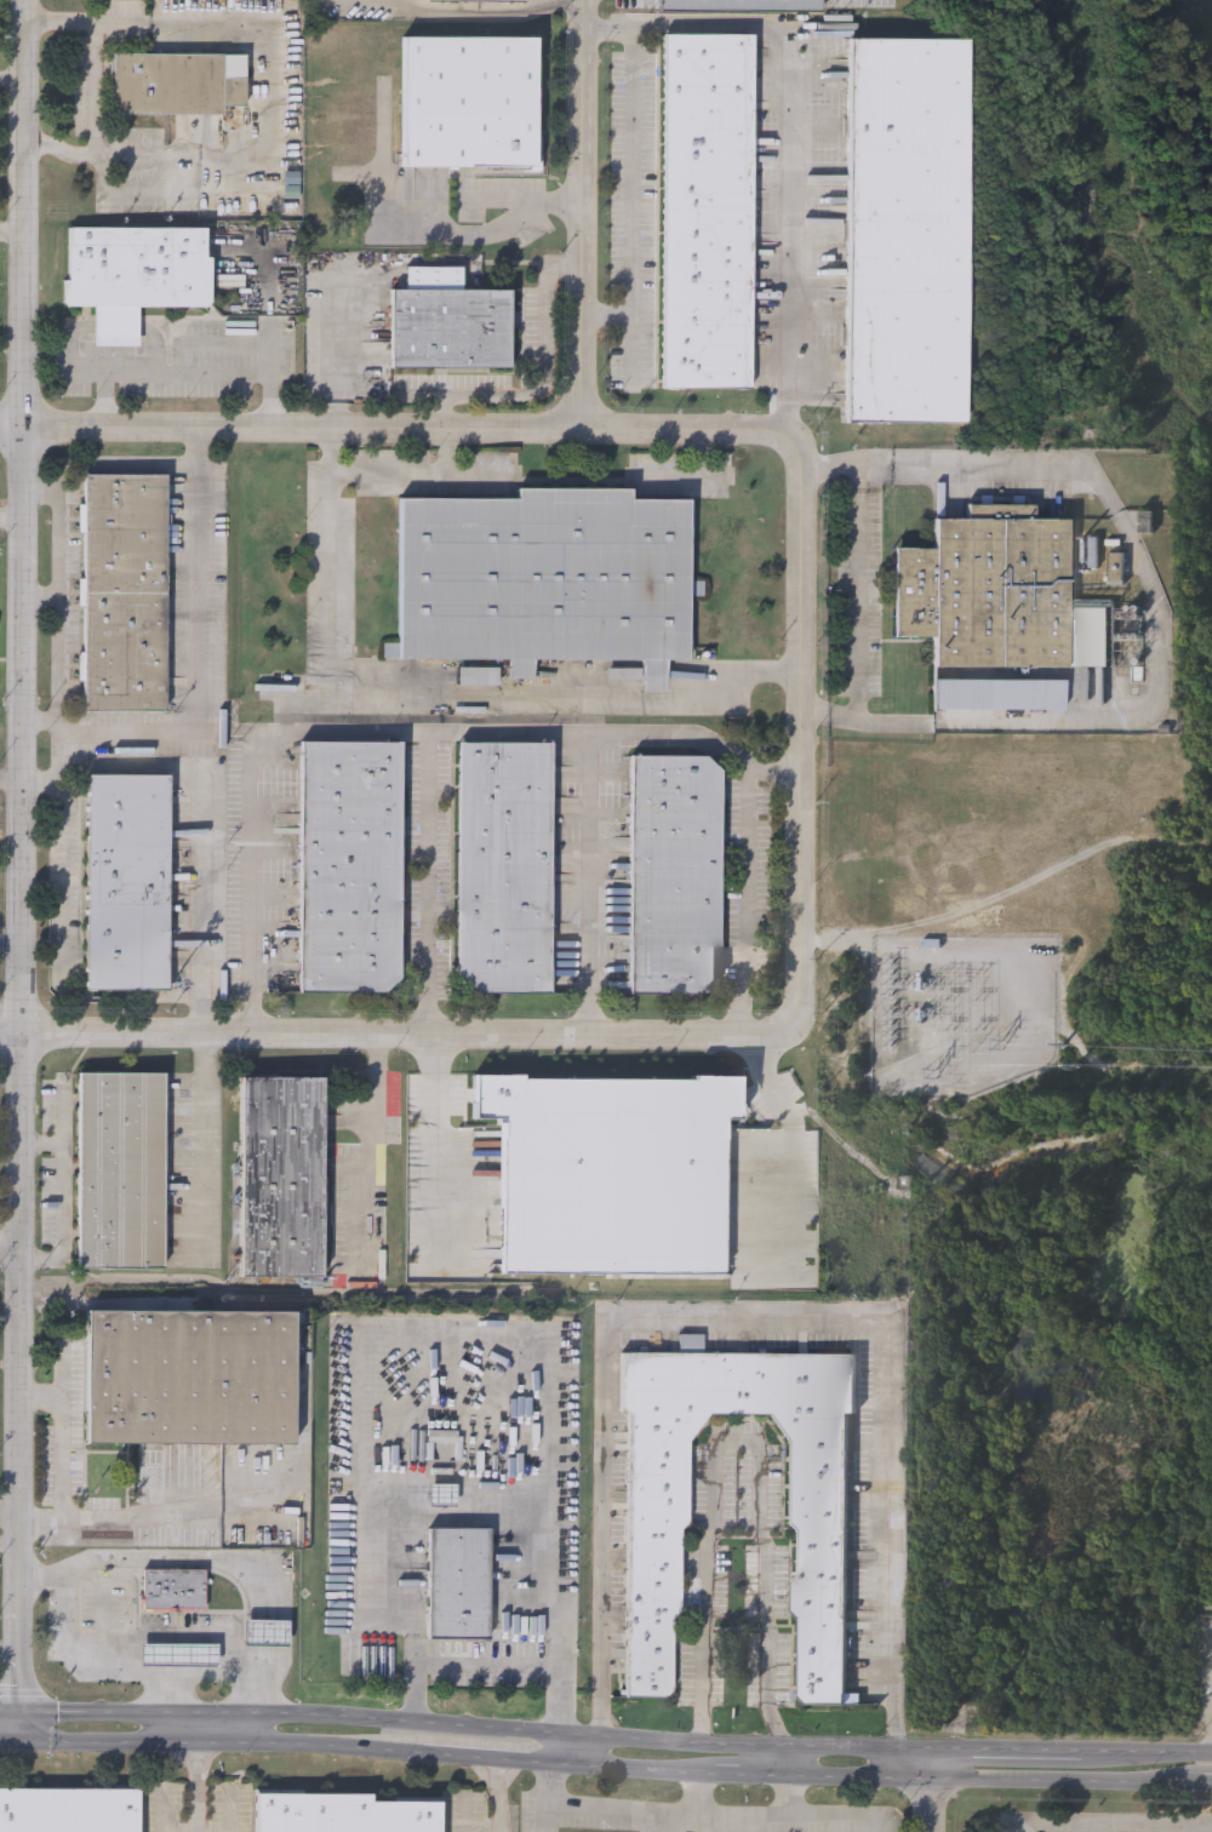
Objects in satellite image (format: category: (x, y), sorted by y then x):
building: (491, 0)
river: (1211, 0)
road: (537, 4)
building: (742, 4)
road: (484, 10)
building: (177, 82)
road: (96, 87)
road: (270, 93)
building: (469, 101)
road: (790, 136)
road: (139, 191)
road: (630, 202)
building: (708, 211)
road: (582, 216)
road: (11, 229)
road: (499, 229)
building: (908, 230)
building: (135, 274)
road: (267, 308)
road: (606, 315)
building: (448, 321)
road: (109, 328)
road: (332, 366)
road: (159, 373)
road: (90, 374)
road: (547, 379)
road: (269, 402)
road: (290, 431)
road: (702, 456)
road: (119, 468)
road: (411, 475)
road: (473, 475)
road: (686, 475)
road: (11, 520)
building: (1148, 522)
building: (544, 579)
road: (59, 590)
road: (854, 591)
building: (125, 592)
building: (997, 594)
road: (41, 596)
road: (1165, 616)
road: (799, 629)
road: (199, 669)
building: (478, 676)
road: (445, 694)
building: (1000, 694)
road: (468, 731)
road: (19, 772)
road: (10, 783)
road: (201, 802)
road: (250, 803)
building: (350, 866)
building: (503, 866)
building: (674, 874)
building: (127, 882)
road: (589, 882)
road: (745, 898)
road: (10, 943)
building: (931, 943)
road: (61, 955)
power substation: (962, 1013)
road: (400, 1032)
road: (770, 1082)
road: (375, 1092)
road: (433, 1115)
road: (205, 1140)
road: (795, 1166)
building: (121, 1172)
building: (613, 1173)
building: (281, 1178)
road: (63, 1200)
road: (10, 1246)
road: (759, 1313)
building: (190, 1378)
road: (67, 1432)
road: (742, 1441)
building: (817, 1471)
road: (494, 1515)
road: (8, 1517)
road: (149, 1517)
road: (166, 1561)
building: (457, 1584)
building: (172, 1590)
road: (17, 1627)
building: (265, 1632)
road: (267, 1632)
building: (178, 1655)
road: (8, 1665)
road: (488, 1667)
road: (126, 1671)
road: (267, 1679)
road: (166, 1691)
traffic signals: (17, 1711)
road: (17, 1725)
road: (465, 1727)
road: (8, 1740)
traffic signals: (17, 1741)
road: (222, 1745)
road: (561, 1748)
road: (1000, 1751)
road: (1139, 1753)
road: (493, 1758)
road: (789, 1762)
road: (630, 1768)
road: (198, 1771)
road: (747, 1775)
road: (1001, 1780)
road: (1211, 1785)
road: (930, 1791)
road: (699, 1794)
road: (502, 1796)
road: (794, 1796)
building: (69, 1810)
building: (343, 1814)
road: (548, 1815)
road: (708, 1815)

